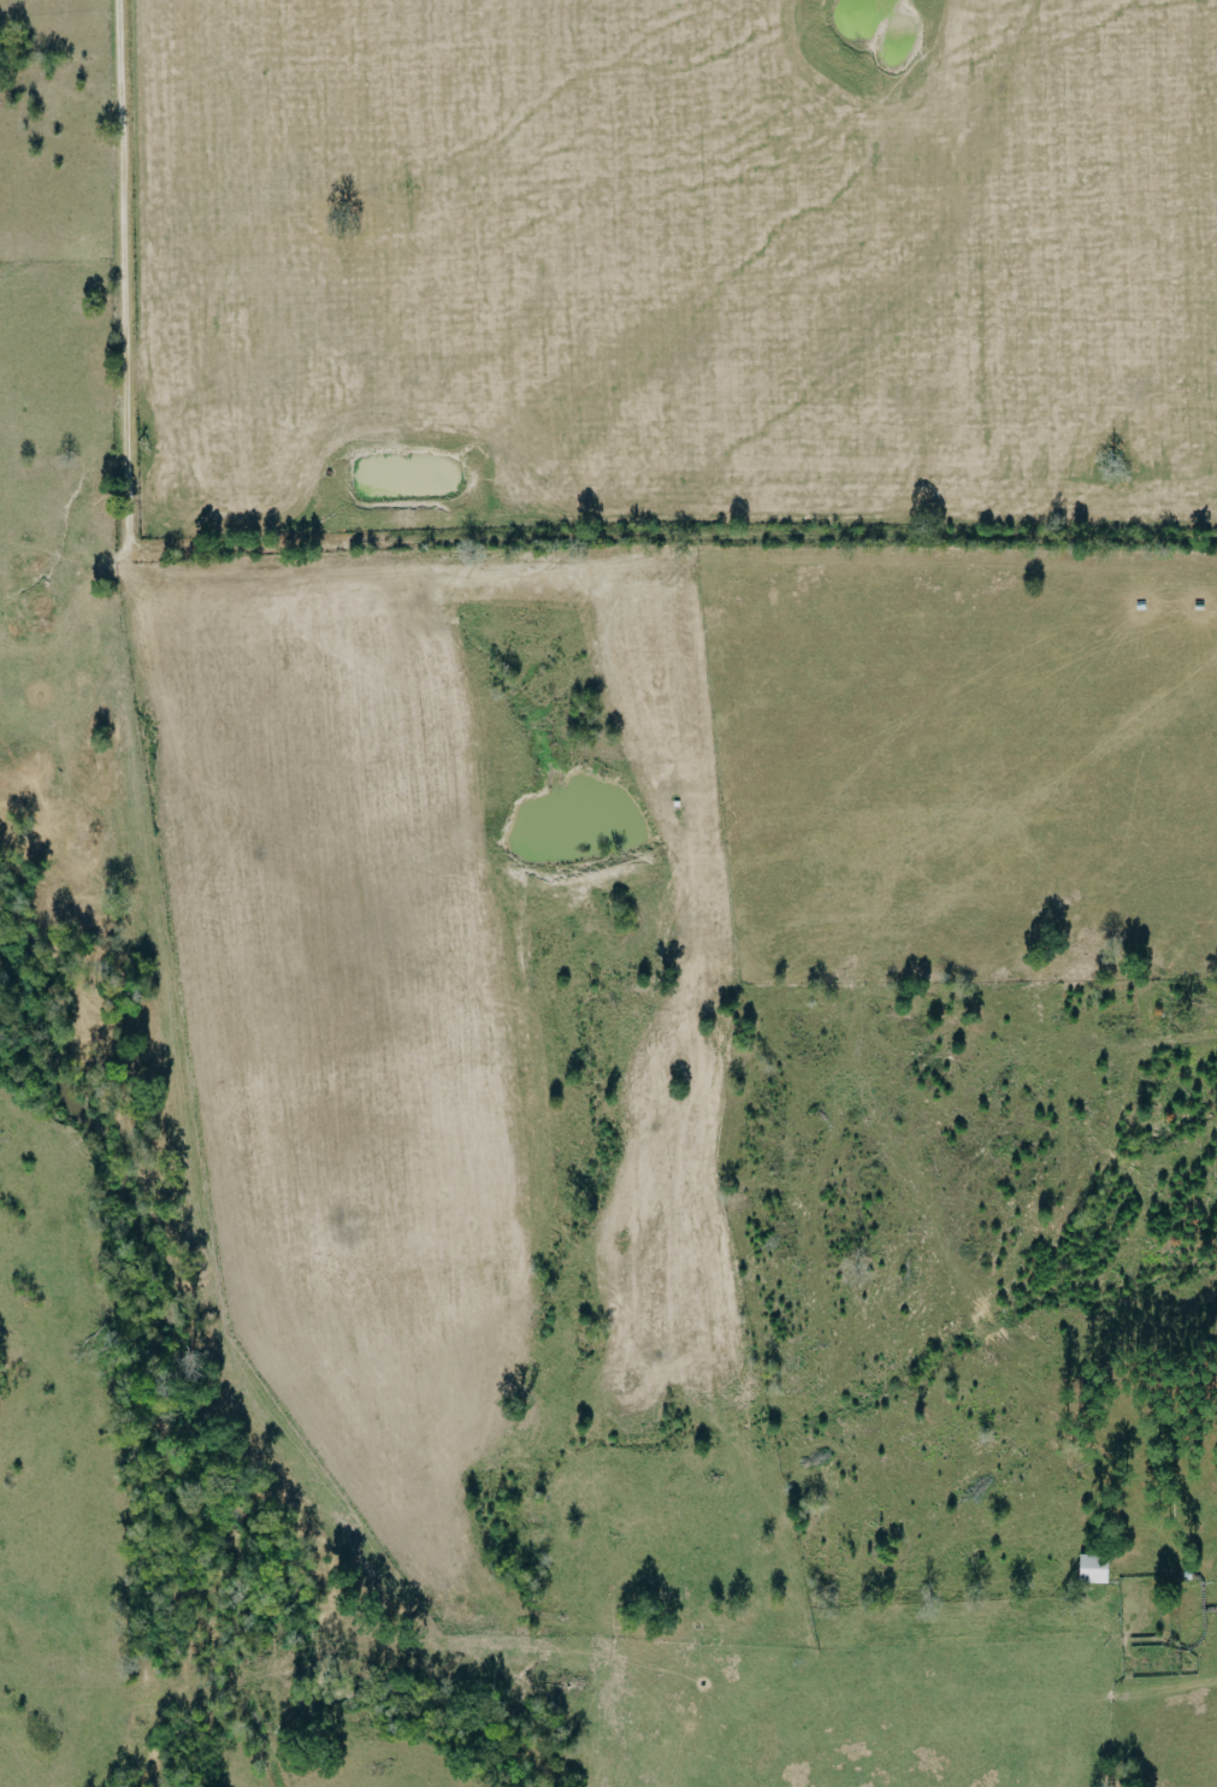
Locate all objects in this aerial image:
building: (1095, 1569)

